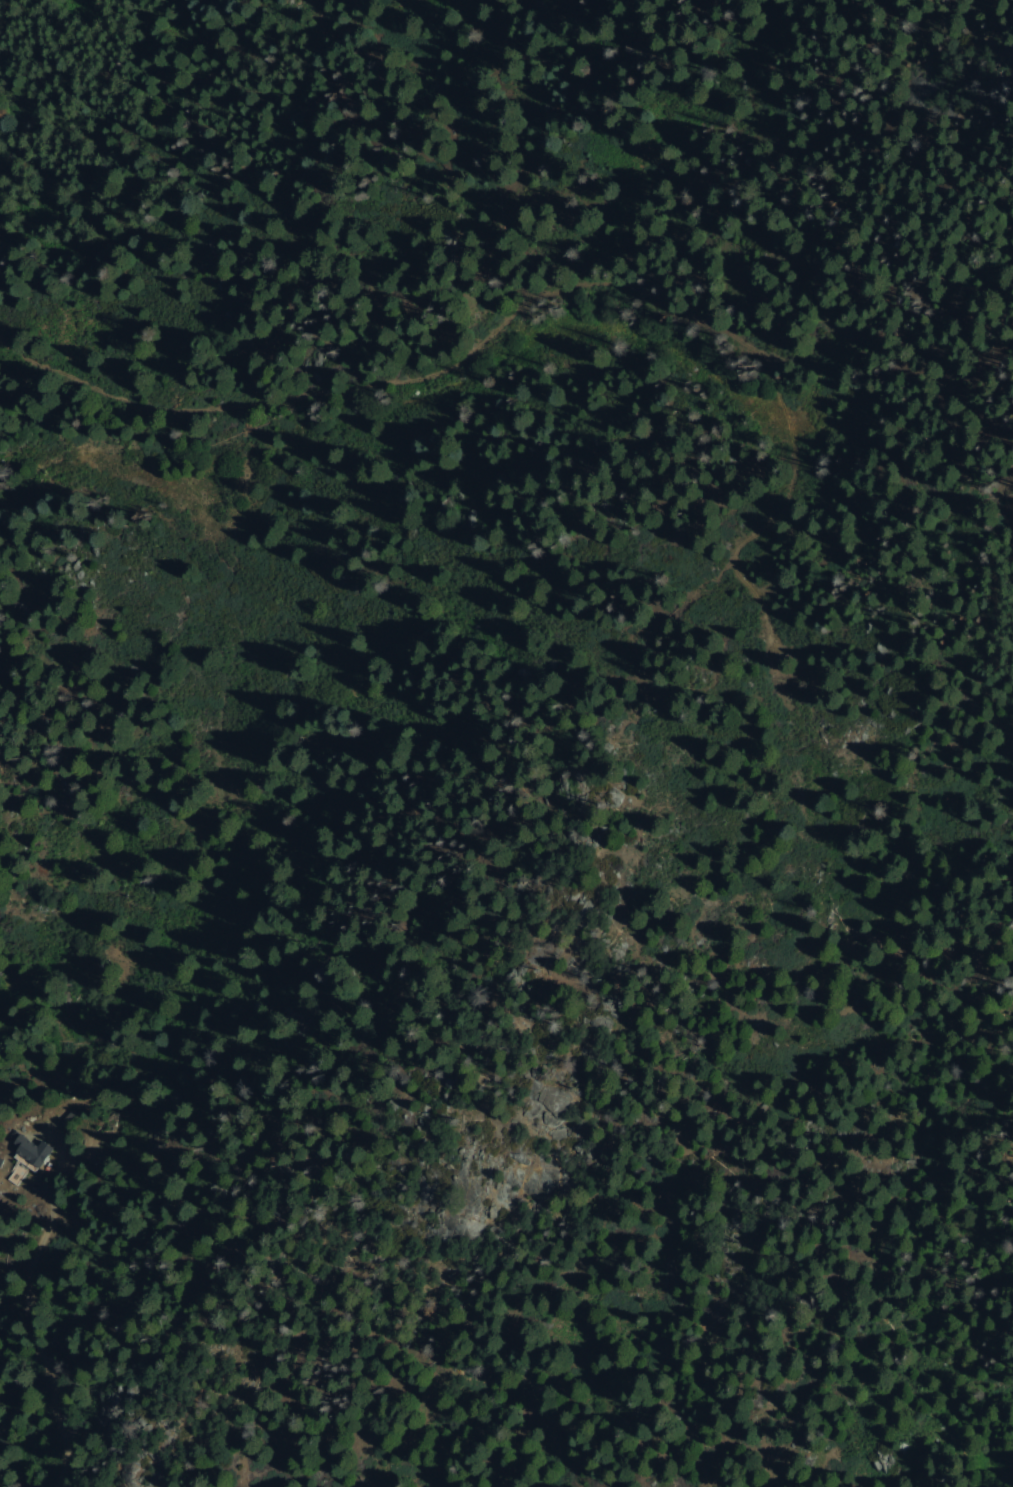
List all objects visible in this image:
building: (463, 520)
building: (34, 1154)

